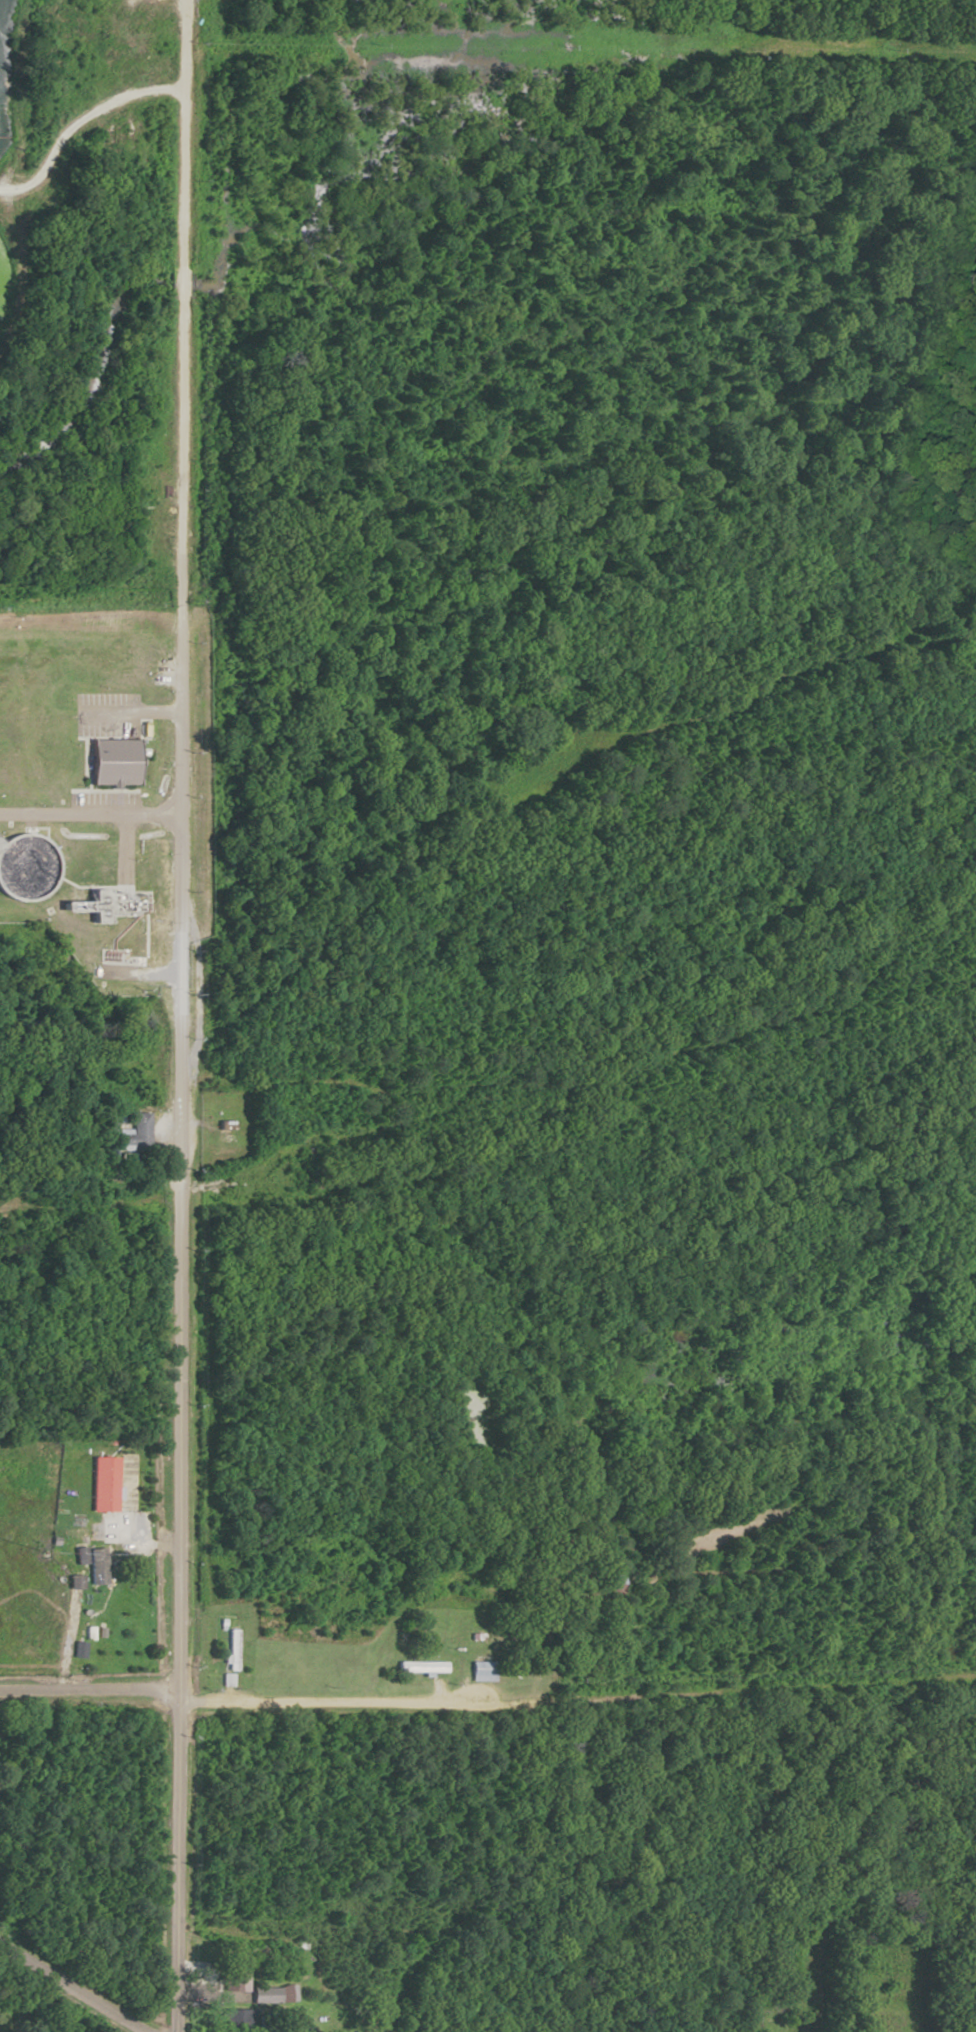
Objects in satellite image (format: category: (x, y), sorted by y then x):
wastewater plant: (83, 757)
road: (89, 803)
building: (106, 846)
building: (91, 870)
road: (180, 1015)
road: (636, 1063)
building: (127, 1134)
road: (150, 1198)
building: (104, 1484)
building: (97, 1566)
building: (614, 1583)
building: (232, 1650)
building: (420, 1667)
building: (482, 1671)
road: (961, 1677)
road: (88, 1687)
road: (719, 1695)
road: (334, 1702)
road: (75, 1987)
building: (270, 1995)
building: (233, 2018)

